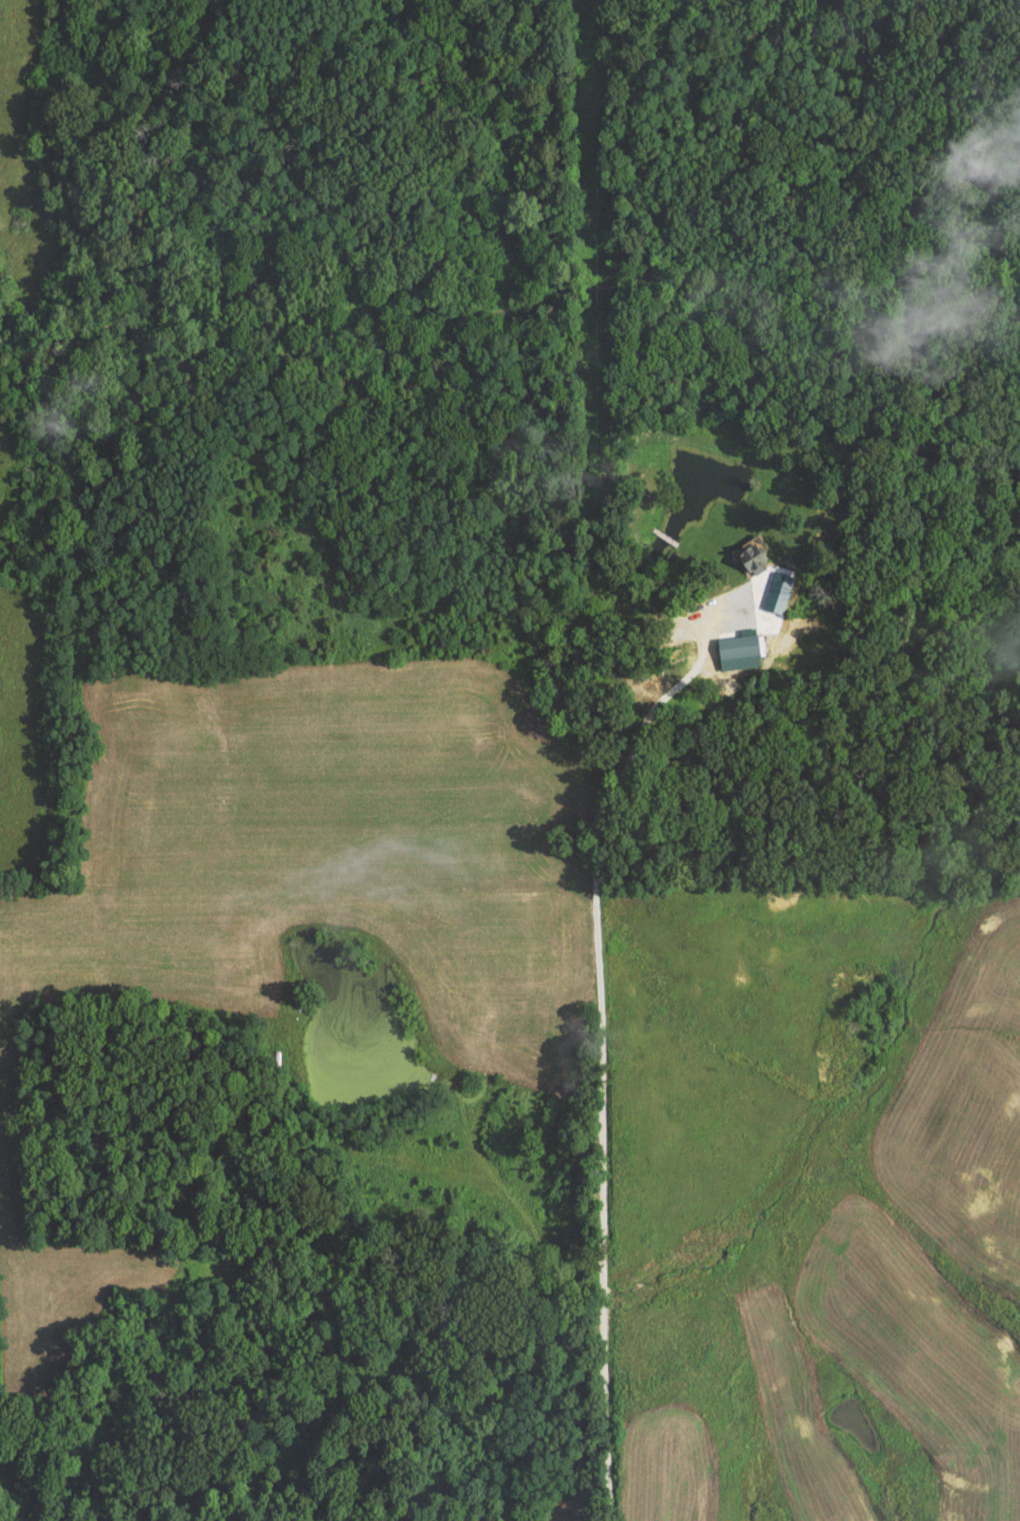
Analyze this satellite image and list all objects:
building: (777, 597)
building: (741, 657)

